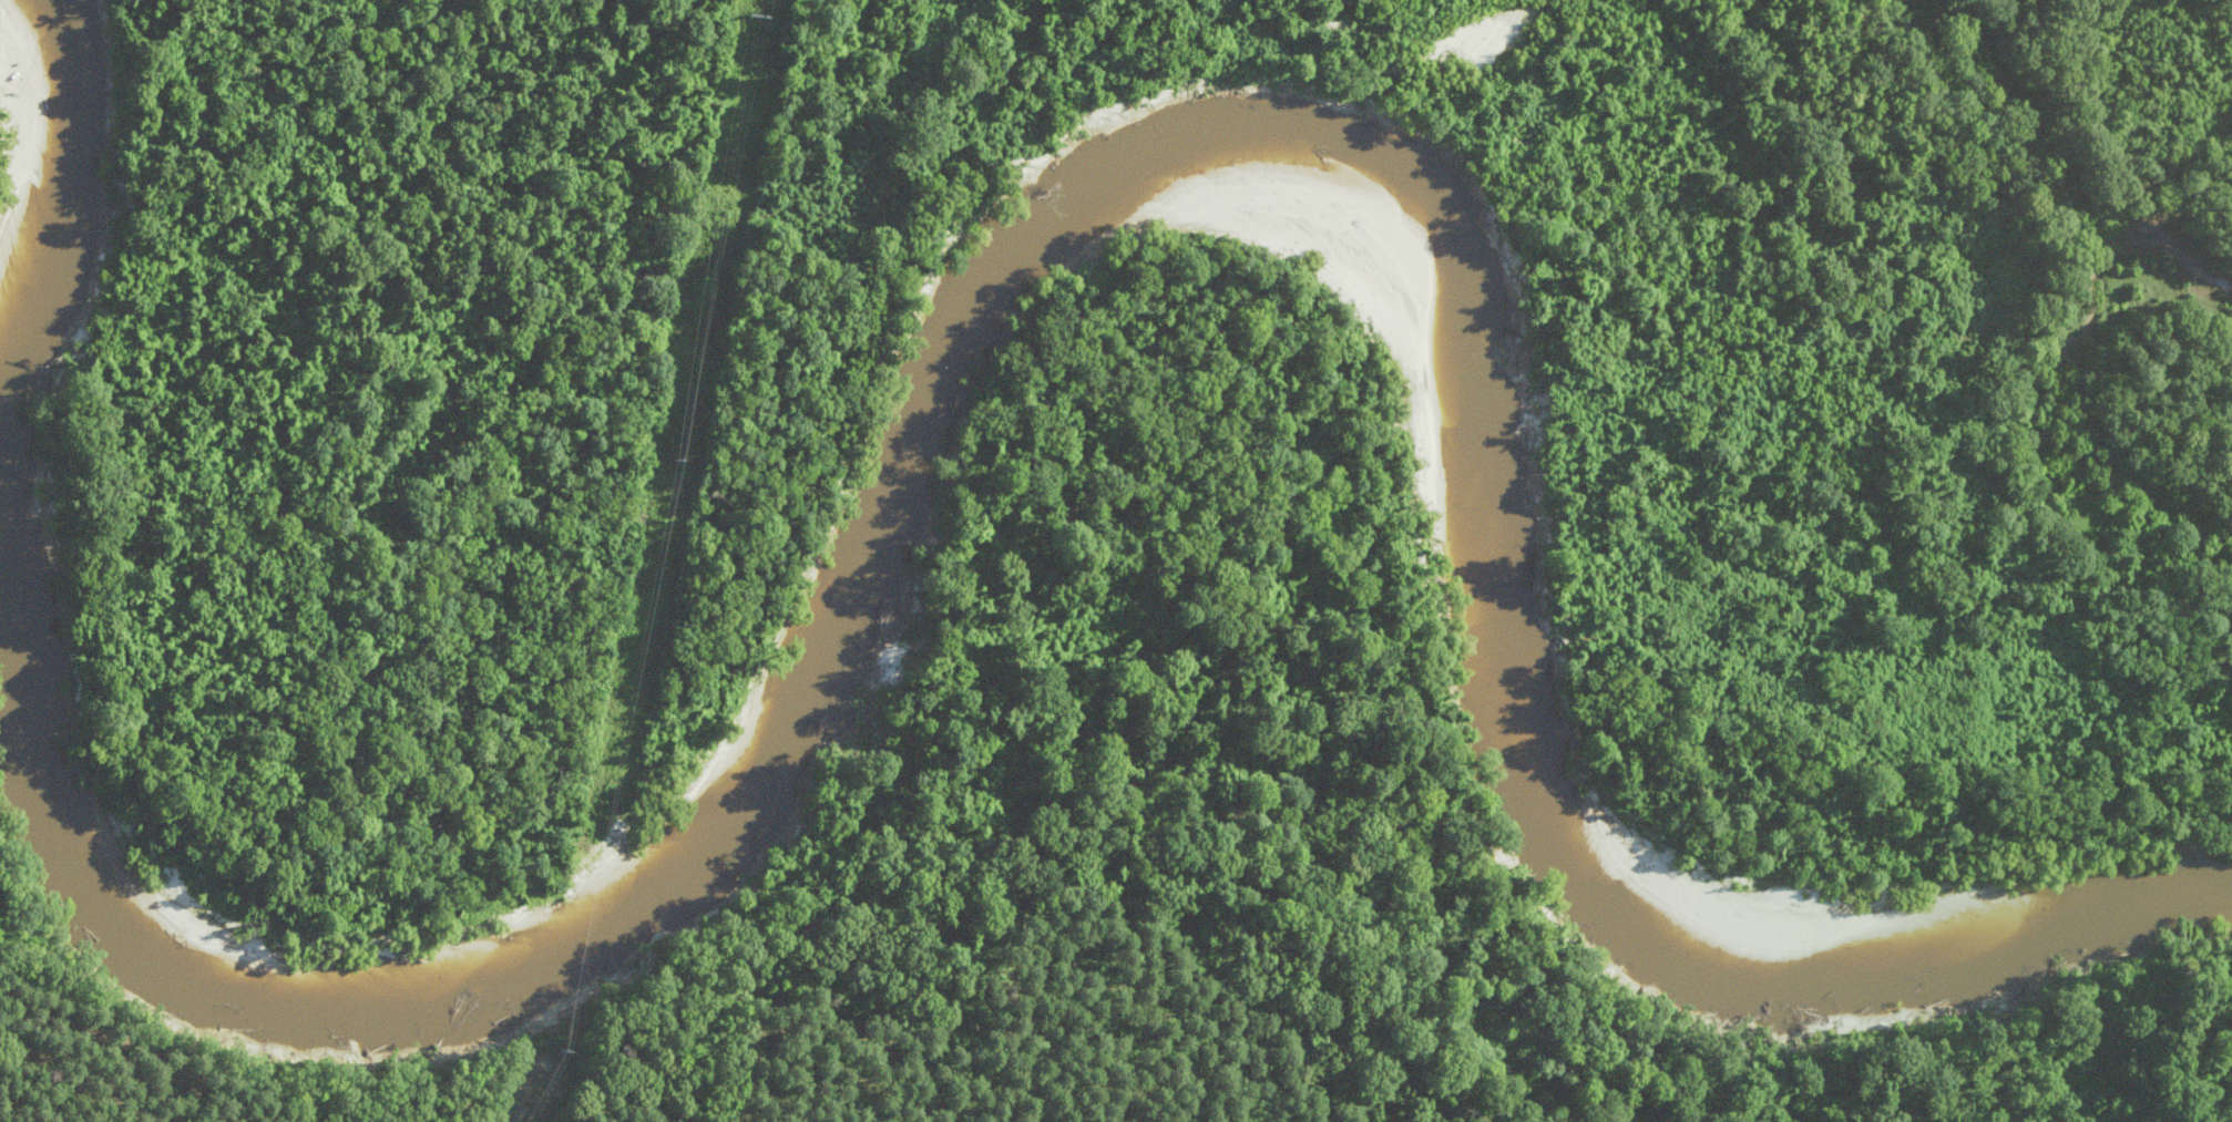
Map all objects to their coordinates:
river: (30, 189)
river: (1062, 204)

